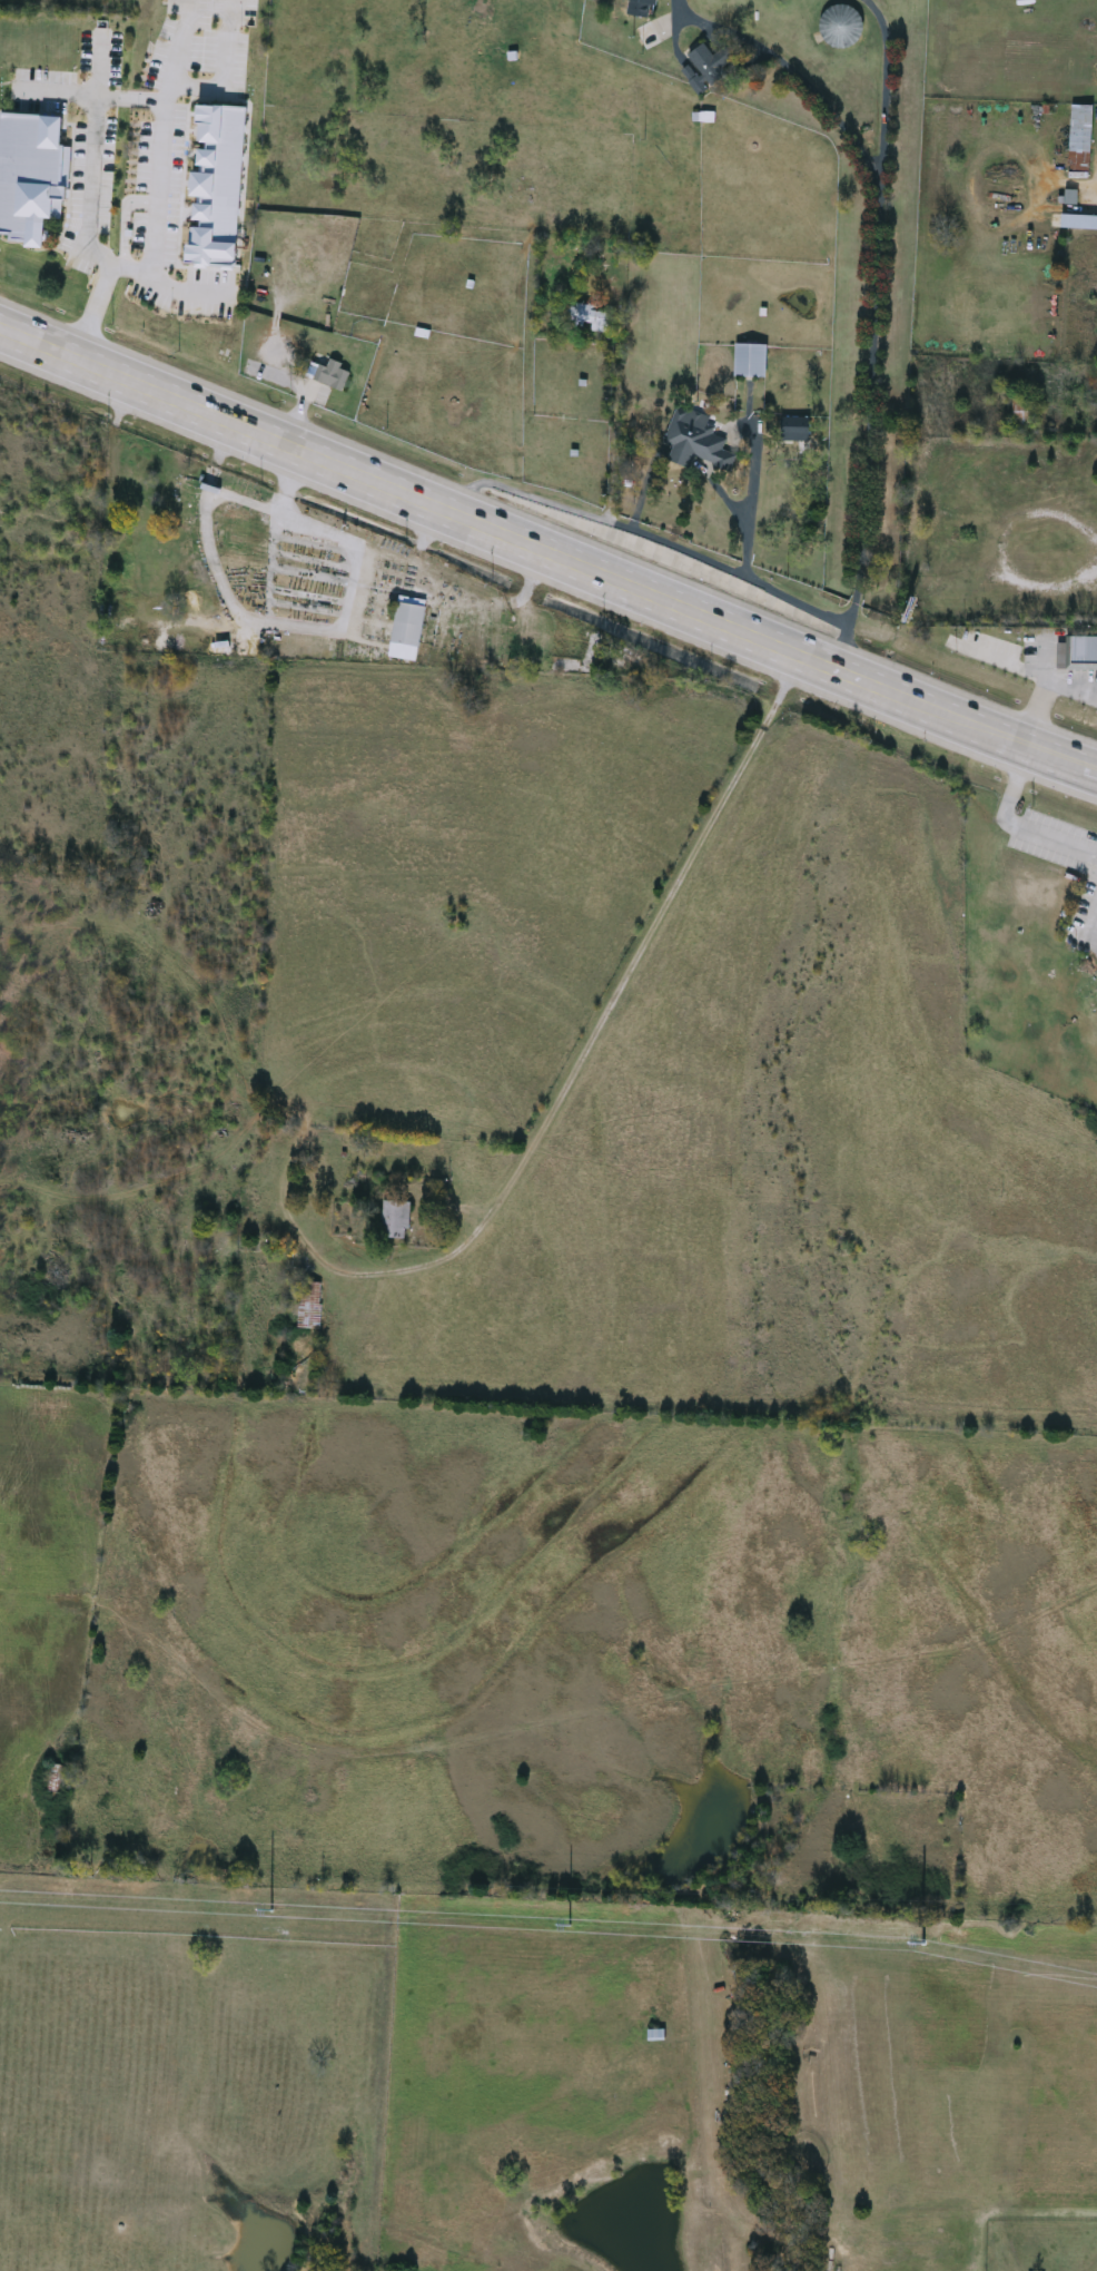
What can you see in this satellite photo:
building: (641, 8)
building: (843, 28)
building: (649, 38)
road: (185, 41)
building: (98, 47)
road: (219, 59)
building: (709, 69)
road: (888, 83)
road: (99, 95)
building: (1081, 139)
parking lot: (81, 144)
road: (92, 147)
parking lot: (182, 148)
building: (31, 178)
building: (218, 187)
building: (1079, 223)
building: (87, 243)
road: (154, 245)
building: (586, 252)
road: (188, 288)
road: (878, 288)
building: (594, 321)
building: (751, 363)
building: (334, 376)
building: (1024, 414)
road: (614, 415)
building: (795, 431)
building: (698, 442)
building: (135, 470)
road: (752, 505)
road: (643, 532)
road: (547, 553)
building: (408, 630)
building: (1078, 656)
building: (632, 659)
road: (1045, 692)
road: (1015, 817)
road: (1089, 897)
road: (602, 1029)
building: (396, 1220)
building: (310, 1307)
building: (55, 1780)
building: (656, 2036)

